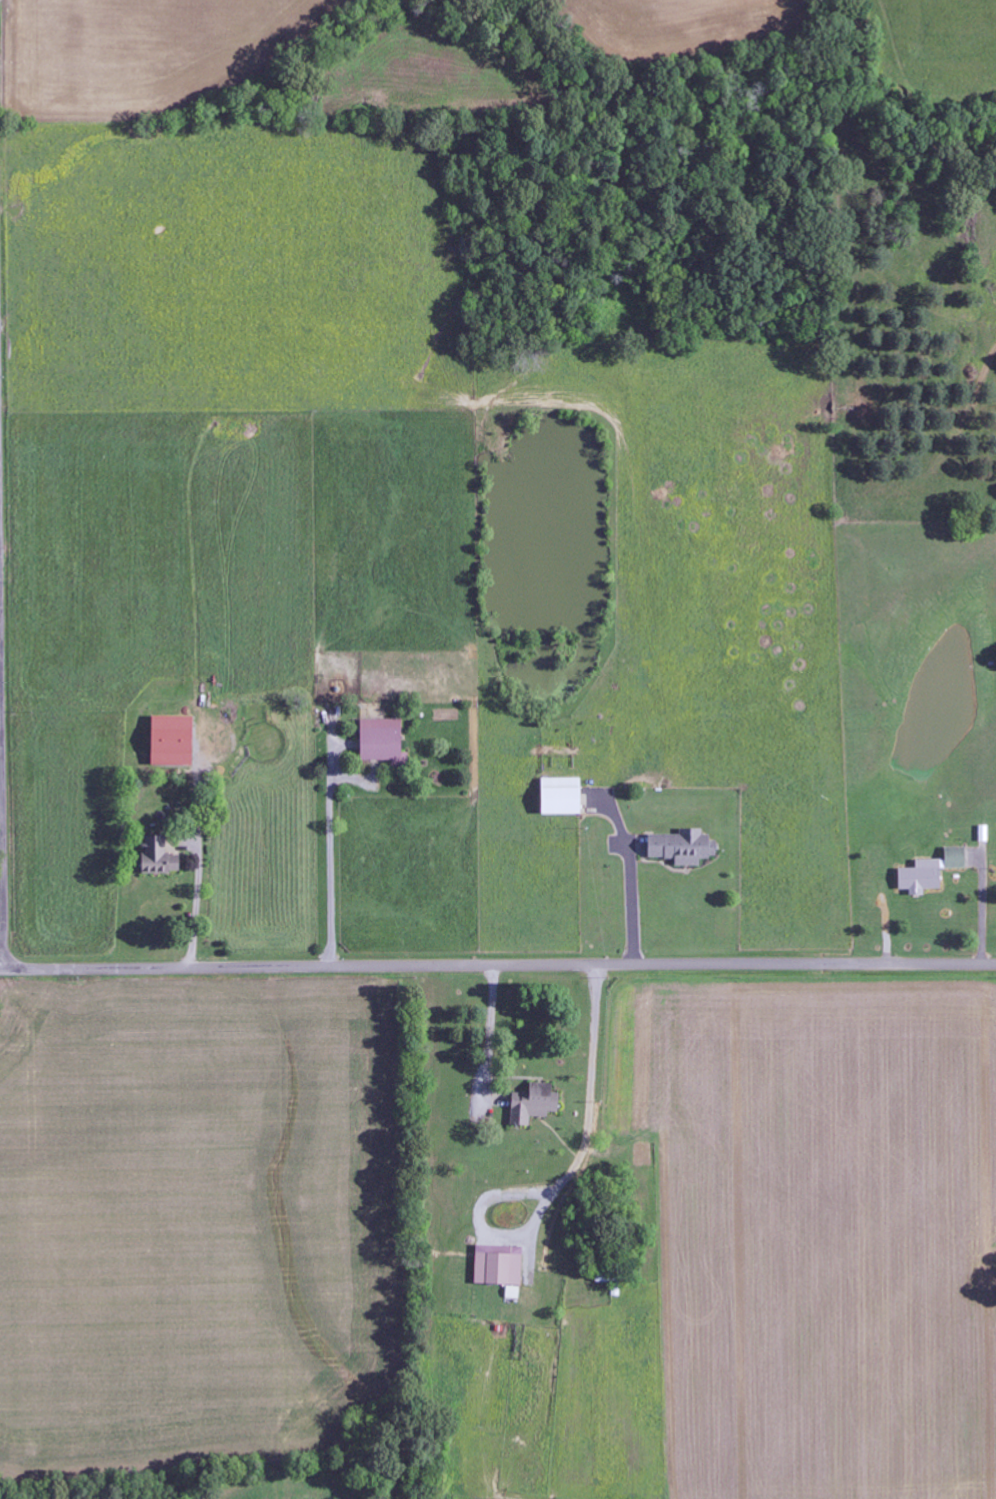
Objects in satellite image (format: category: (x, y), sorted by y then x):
building: (177, 740)
building: (385, 740)
building: (566, 796)
building: (985, 833)
building: (686, 847)
building: (163, 856)
road: (1, 862)
building: (932, 871)
road: (497, 965)
building: (536, 1103)
building: (501, 1265)

